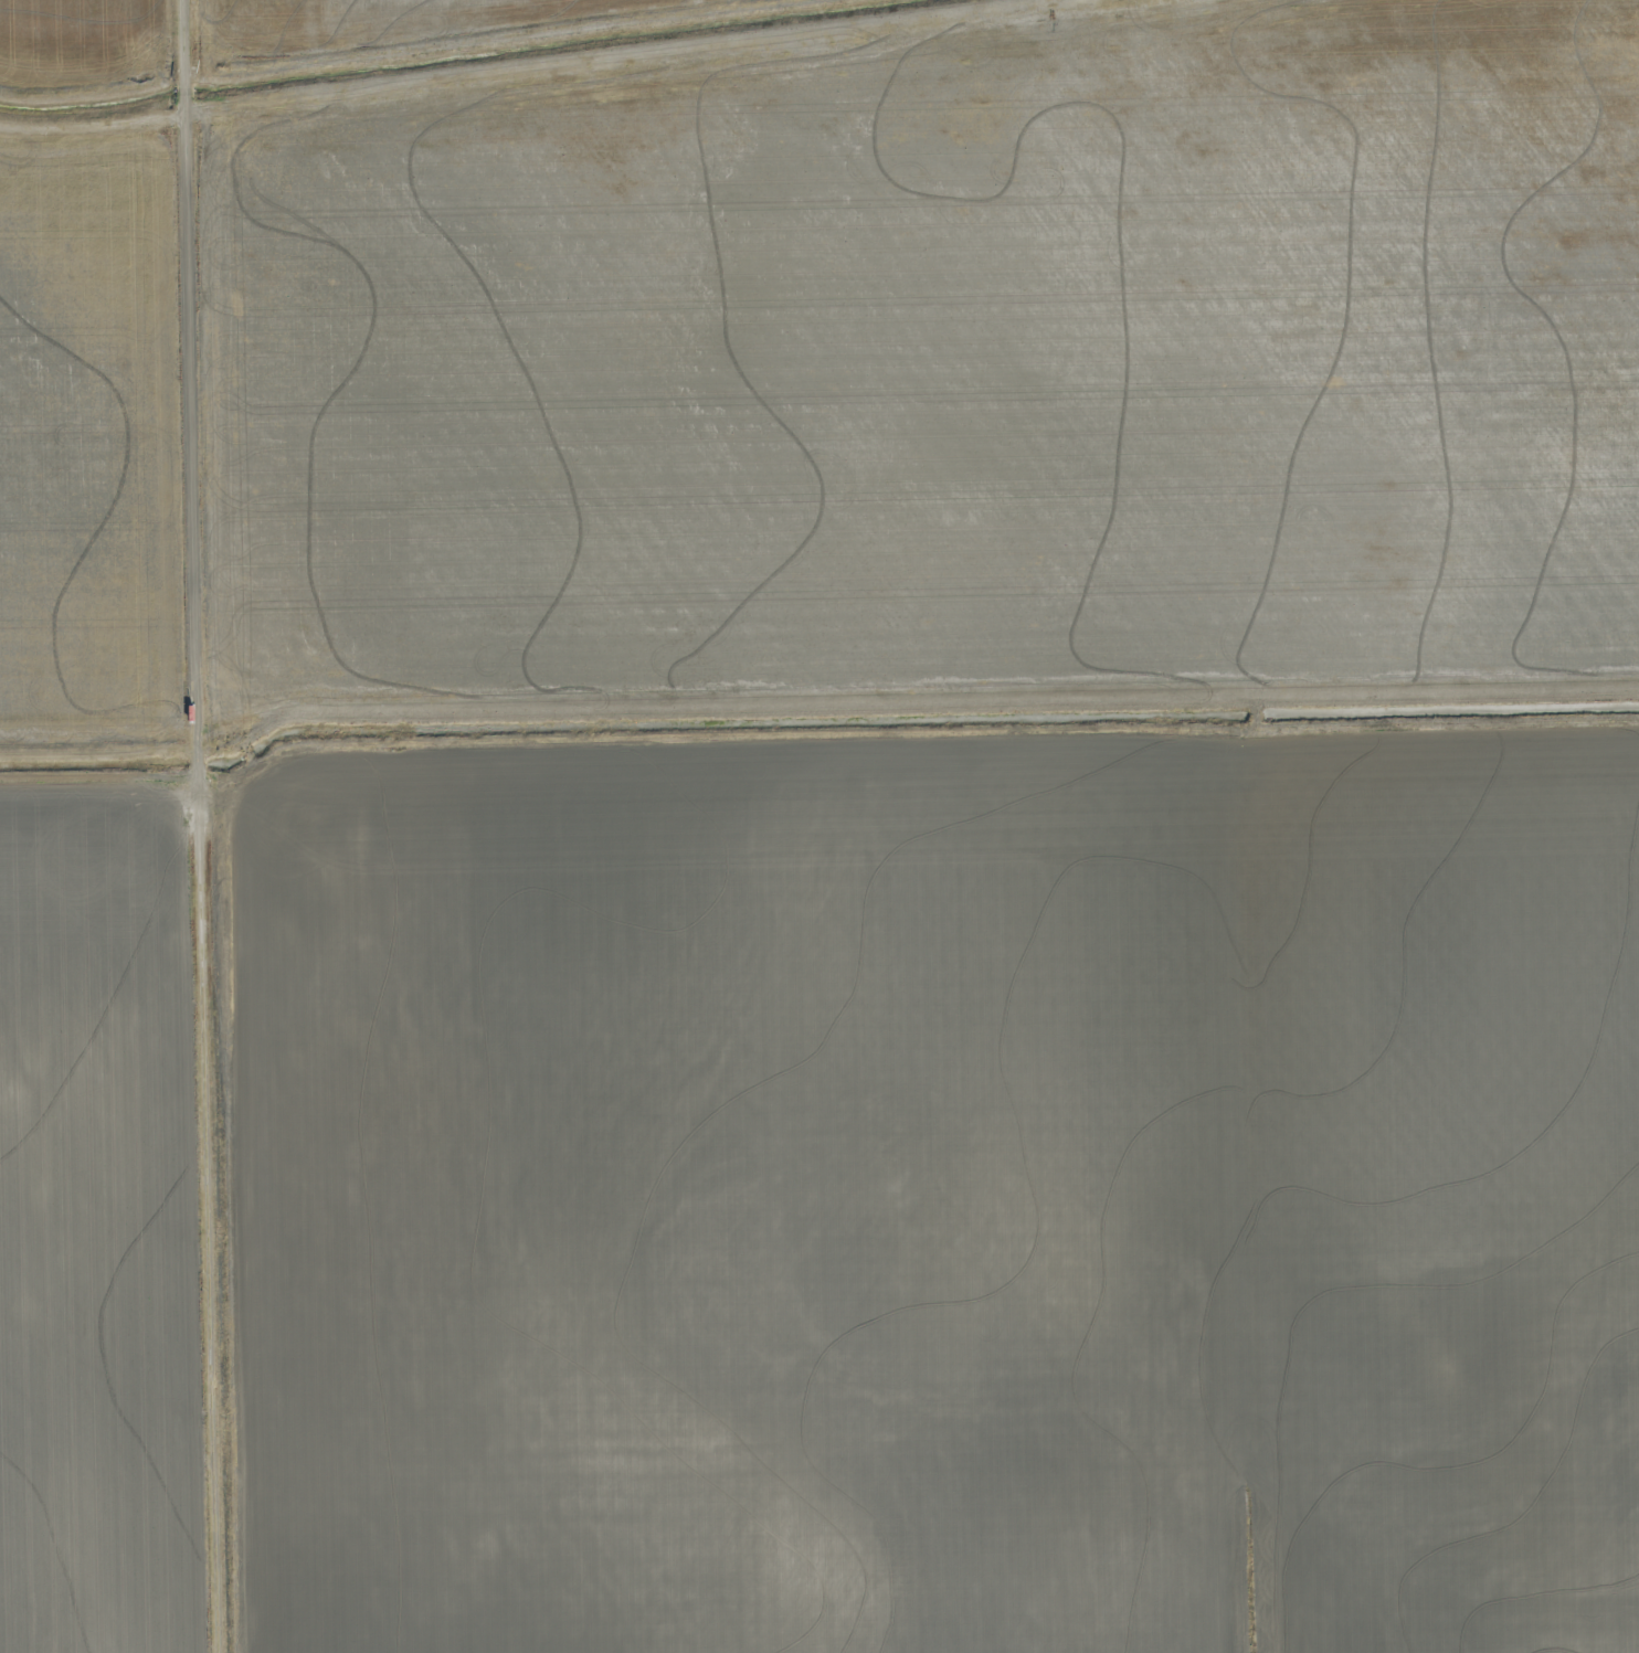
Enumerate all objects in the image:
road: (212, 826)

